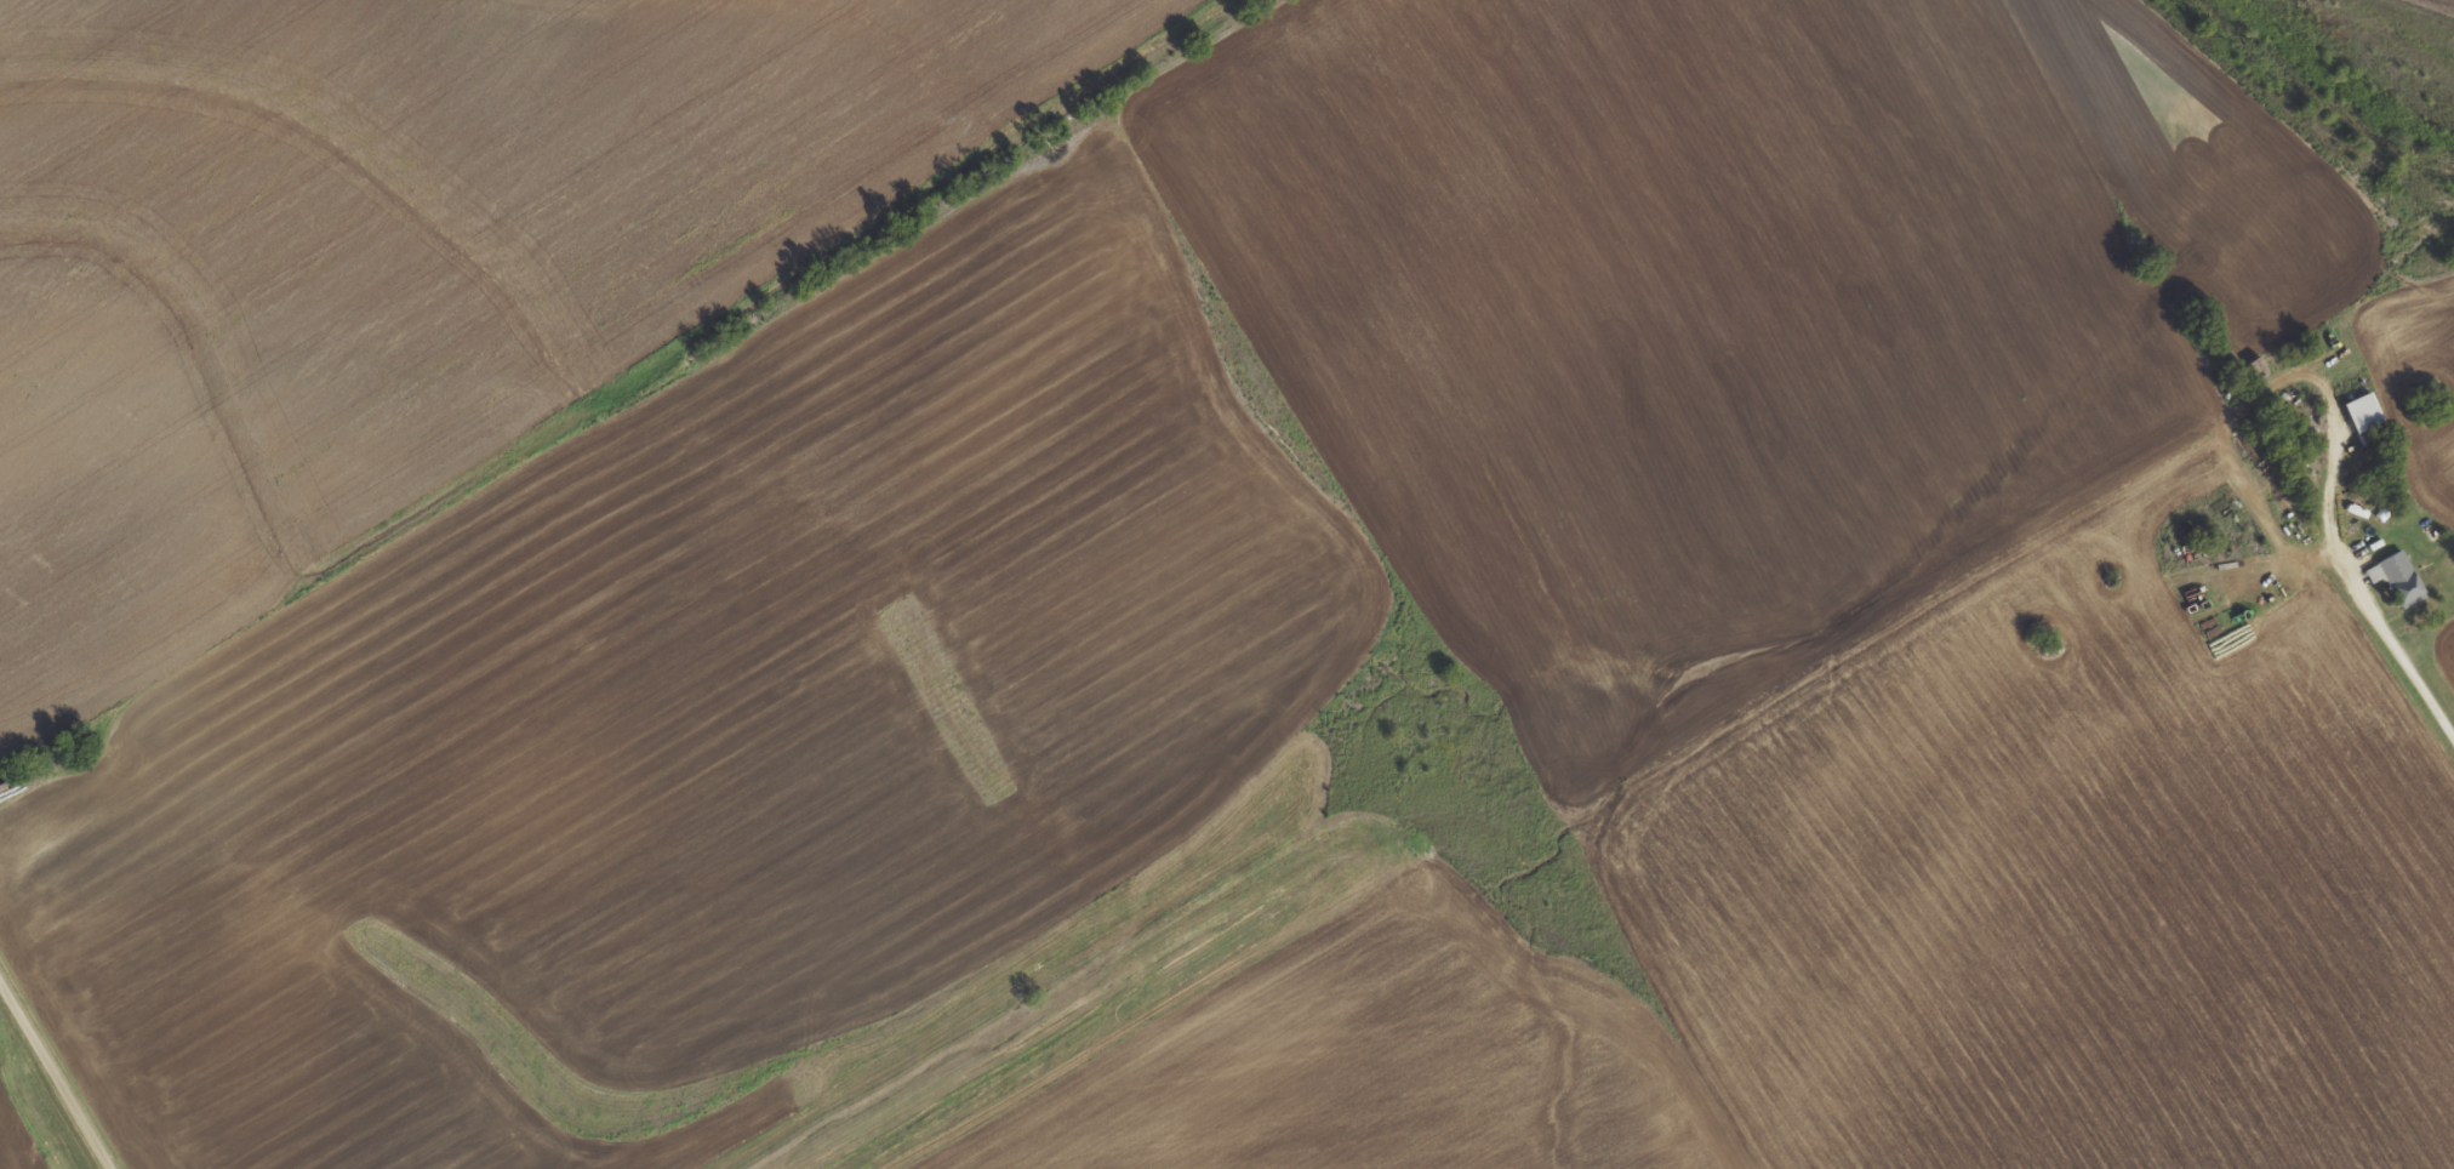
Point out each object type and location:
building: (2362, 412)
building: (2399, 577)
road: (56, 1073)

